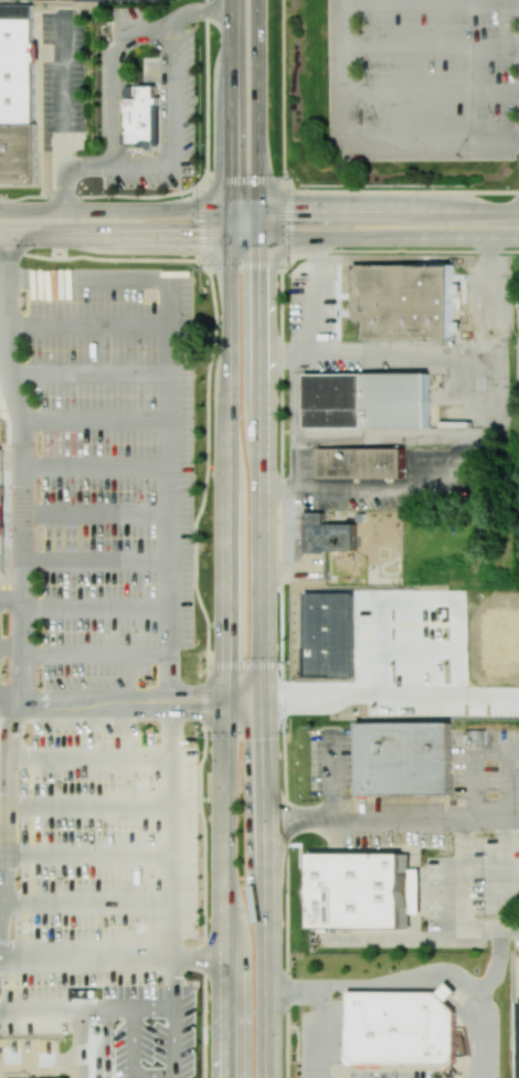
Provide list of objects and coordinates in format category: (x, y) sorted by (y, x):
building: (134, 0)
road: (434, 0)
road: (198, 13)
road: (433, 44)
road: (283, 89)
road: (433, 92)
building: (18, 93)
road: (65, 114)
building: (141, 115)
road: (231, 118)
road: (256, 118)
road: (362, 138)
road: (88, 169)
road: (118, 169)
road: (352, 190)
road: (198, 210)
traffic signals: (231, 210)
traffic signals: (256, 210)
road: (456, 222)
road: (199, 237)
traffic signals: (231, 237)
traffic signals: (256, 237)
road: (403, 250)
road: (242, 265)
building: (47, 284)
road: (492, 287)
road: (315, 296)
building: (404, 302)
building: (184, 337)
road: (378, 356)
building: (142, 394)
building: (366, 400)
road: (19, 426)
road: (395, 436)
road: (299, 462)
building: (361, 462)
parking lot: (110, 474)
road: (366, 486)
building: (1, 507)
building: (335, 532)
road: (195, 567)
road: (9, 644)
road: (17, 651)
road: (225, 657)
road: (264, 657)
road: (282, 672)
road: (391, 695)
road: (8, 696)
road: (200, 696)
traffic signals: (225, 696)
traffic signals: (265, 702)
road: (75, 704)
road: (201, 711)
traffic signals: (226, 712)
road: (92, 755)
building: (404, 759)
road: (477, 765)
road: (329, 774)
road: (9, 811)
road: (448, 815)
road: (489, 815)
road: (169, 835)
parking lot: (105, 858)
road: (504, 871)
building: (354, 890)
building: (409, 890)
road: (112, 959)
road: (485, 982)
road: (380, 984)
road: (454, 993)
building: (453, 994)
road: (75, 1010)
road: (151, 1010)
road: (318, 1010)
building: (401, 1028)
parking lot: (155, 1031)
road: (481, 1038)
building: (518, 1039)
road: (102, 1044)
road: (107, 1056)
road: (153, 1077)
road: (173, 1077)

